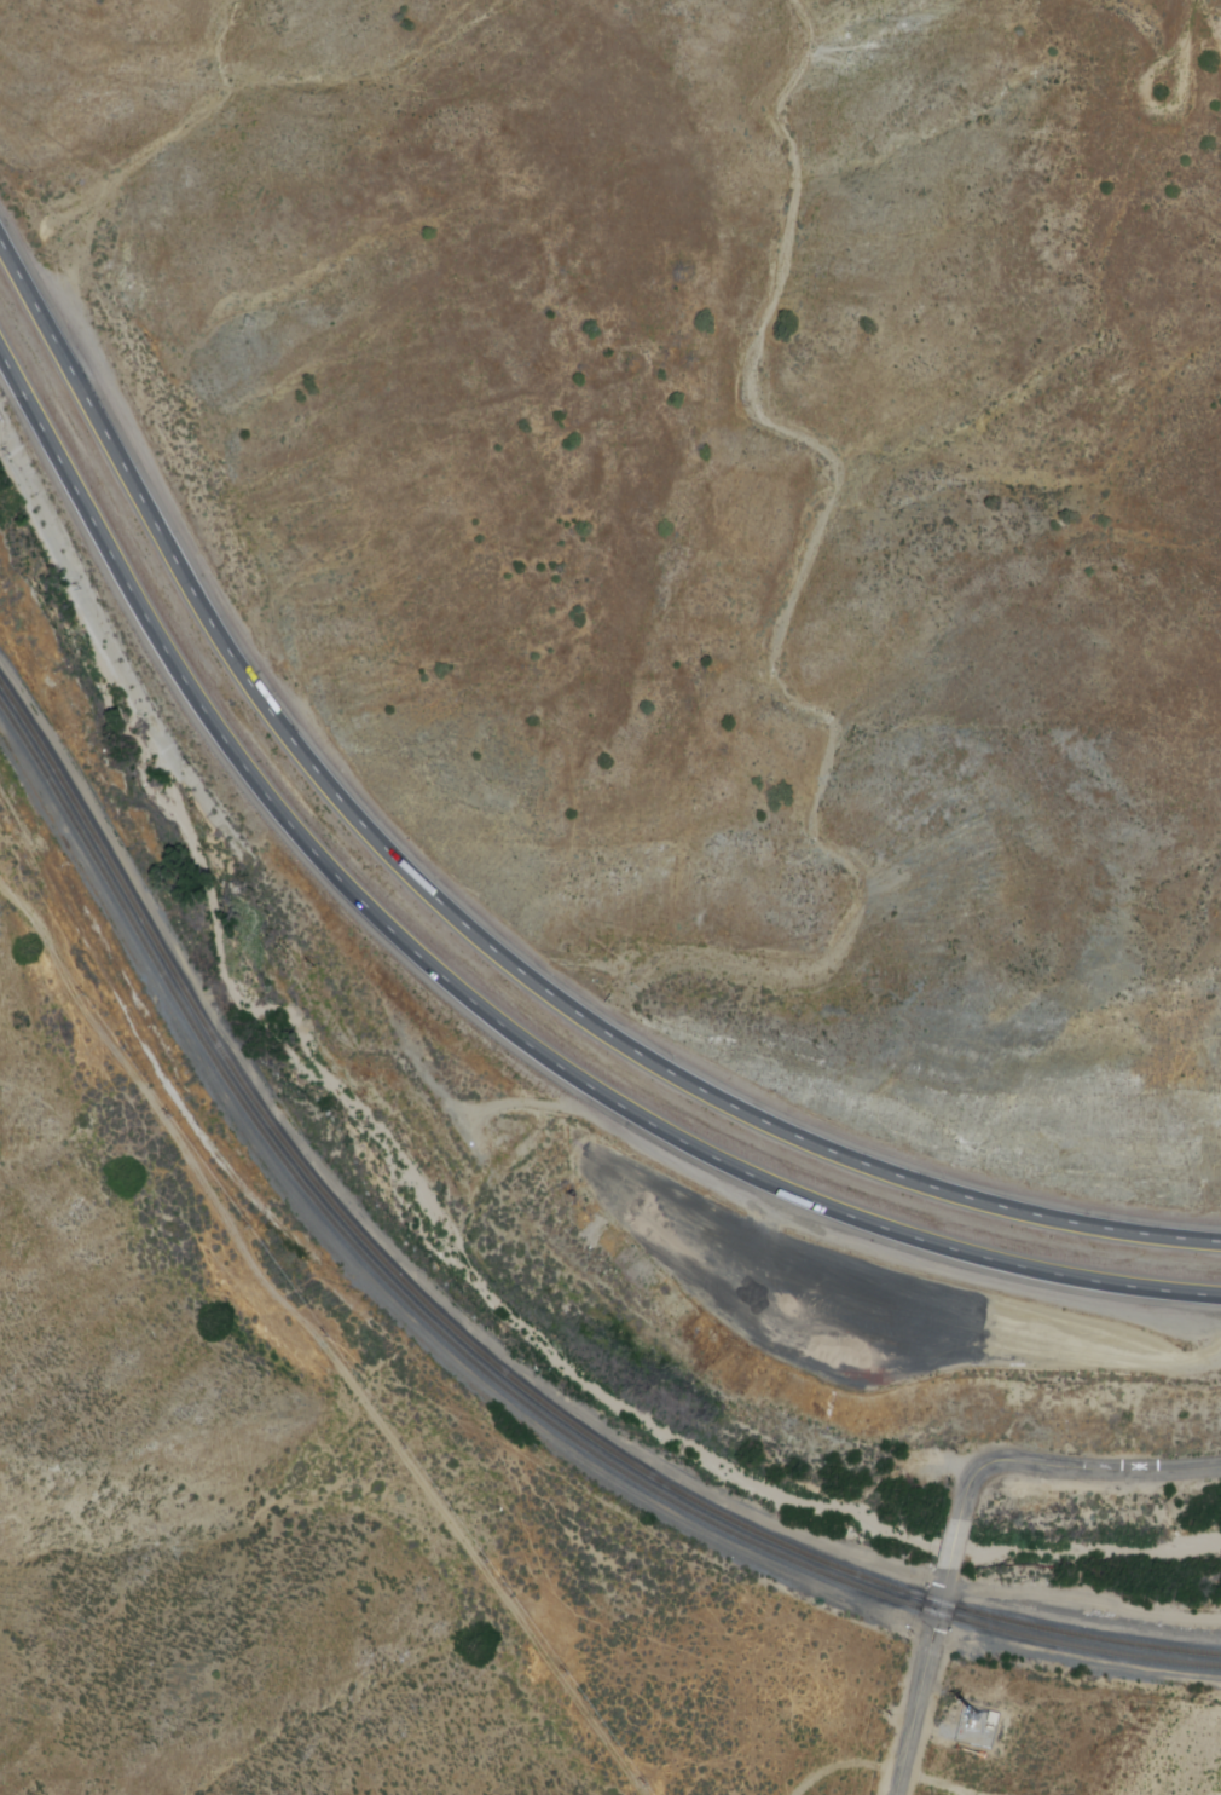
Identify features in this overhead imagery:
road: (1187, 18)
road: (1156, 108)
road: (464, 927)
road: (475, 1004)
railway: (475, 1350)
railway: (475, 1366)
road: (1069, 1467)
road: (953, 1545)
road: (920, 1680)
building: (977, 1725)

